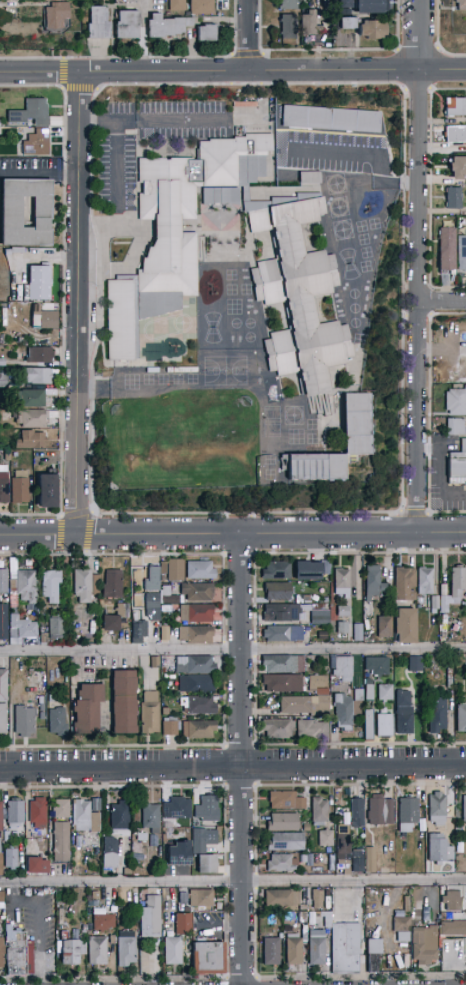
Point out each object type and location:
building: (176, 5)
building: (288, 5)
building: (364, 5)
building: (459, 5)
building: (201, 7)
building: (55, 15)
building: (98, 22)
building: (312, 22)
building: (347, 23)
building: (127, 25)
building: (167, 26)
road: (234, 27)
building: (286, 27)
building: (371, 30)
building: (206, 33)
road: (247, 35)
road: (420, 35)
road: (438, 39)
road: (327, 50)
road: (417, 50)
road: (247, 55)
road: (116, 58)
road: (232, 71)
road: (402, 89)
road: (416, 89)
road: (63, 90)
building: (454, 107)
building: (333, 120)
road: (150, 121)
building: (35, 126)
building: (455, 134)
parking lot: (147, 137)
road: (363, 153)
road: (116, 164)
building: (458, 168)
road: (38, 174)
building: (309, 178)
road: (429, 189)
building: (453, 198)
building: (26, 212)
building: (446, 250)
building: (461, 253)
building: (292, 273)
building: (39, 283)
road: (429, 300)
road: (442, 300)
road: (417, 301)
road: (63, 302)
road: (76, 303)
building: (44, 319)
building: (39, 354)
building: (151, 355)
building: (37, 376)
building: (2, 379)
building: (31, 398)
building: (455, 400)
road: (429, 414)
building: (32, 419)
building: (355, 423)
building: (455, 427)
building: (29, 440)
building: (457, 466)
building: (4, 484)
building: (19, 487)
building: (46, 491)
road: (414, 513)
road: (79, 514)
road: (401, 532)
road: (232, 533)
road: (155, 555)
building: (176, 569)
building: (201, 570)
building: (276, 570)
building: (308, 570)
building: (152, 578)
building: (424, 580)
building: (3, 581)
building: (342, 582)
building: (374, 582)
building: (458, 582)
building: (23, 584)
building: (51, 584)
building: (112, 584)
building: (404, 584)
building: (84, 586)
building: (277, 592)
building: (189, 593)
building: (438, 604)
building: (153, 606)
building: (343, 611)
building: (196, 613)
building: (281, 613)
building: (318, 615)
building: (115, 618)
building: (3, 622)
building: (405, 625)
building: (384, 626)
building: (25, 627)
building: (138, 627)
building: (56, 628)
building: (342, 628)
building: (286, 634)
building: (195, 635)
road: (224, 650)
road: (233, 651)
building: (283, 664)
building: (415, 664)
building: (195, 665)
building: (376, 666)
building: (341, 670)
building: (282, 683)
building: (317, 683)
building: (196, 684)
building: (385, 693)
building: (3, 702)
building: (124, 702)
building: (201, 706)
building: (299, 706)
building: (87, 709)
building: (343, 712)
building: (404, 712)
building: (150, 713)
building: (436, 715)
building: (461, 718)
building: (24, 721)
building: (57, 722)
building: (368, 724)
building: (169, 726)
building: (384, 726)
building: (199, 729)
building: (277, 729)
building: (312, 729)
road: (155, 745)
road: (241, 758)
road: (232, 766)
building: (286, 801)
building: (93, 803)
building: (176, 807)
building: (61, 809)
building: (438, 809)
building: (464, 809)
building: (319, 811)
building: (380, 811)
building: (37, 812)
building: (15, 813)
building: (357, 813)
building: (208, 814)
building: (407, 815)
building: (84, 816)
building: (150, 818)
building: (119, 819)
building: (282, 822)
building: (325, 838)
building: (200, 841)
building: (61, 842)
building: (285, 842)
building: (341, 843)
building: (0, 844)
building: (439, 849)
building: (174, 851)
building: (110, 853)
building: (10, 858)
building: (369, 860)
building: (280, 862)
building: (207, 864)
building: (355, 864)
building: (36, 866)
road: (232, 881)
building: (0, 894)
building: (198, 896)
building: (282, 899)
building: (317, 899)
building: (452, 901)
building: (149, 914)
building: (326, 919)
building: (101, 920)
building: (302, 921)
building: (181, 922)
building: (401, 925)
road: (38, 926)
building: (453, 929)
building: (403, 937)
building: (124, 946)
building: (424, 946)
building: (374, 947)
building: (345, 948)
building: (69, 949)
building: (94, 949)
building: (170, 949)
building: (317, 950)
building: (293, 951)
building: (271, 952)
building: (453, 953)
building: (0, 955)
building: (205, 956)
building: (21, 959)
building: (370, 961)
building: (216, 966)

